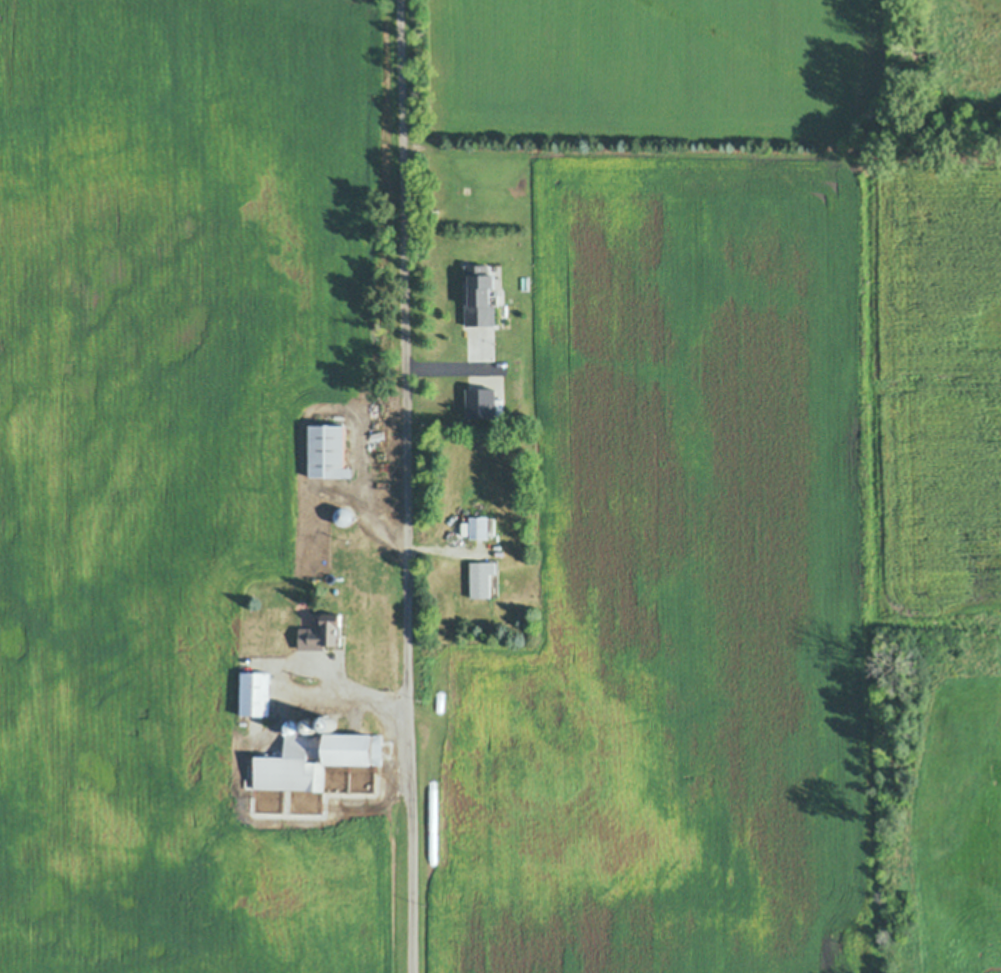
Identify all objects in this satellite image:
building: (480, 296)
building: (498, 296)
building: (325, 450)
road: (365, 481)
road: (407, 486)
building: (344, 515)
building: (477, 526)
building: (481, 579)
building: (494, 582)
building: (323, 633)
road: (300, 686)
building: (256, 694)
building: (330, 720)
building: (313, 723)
building: (295, 724)
building: (314, 758)

